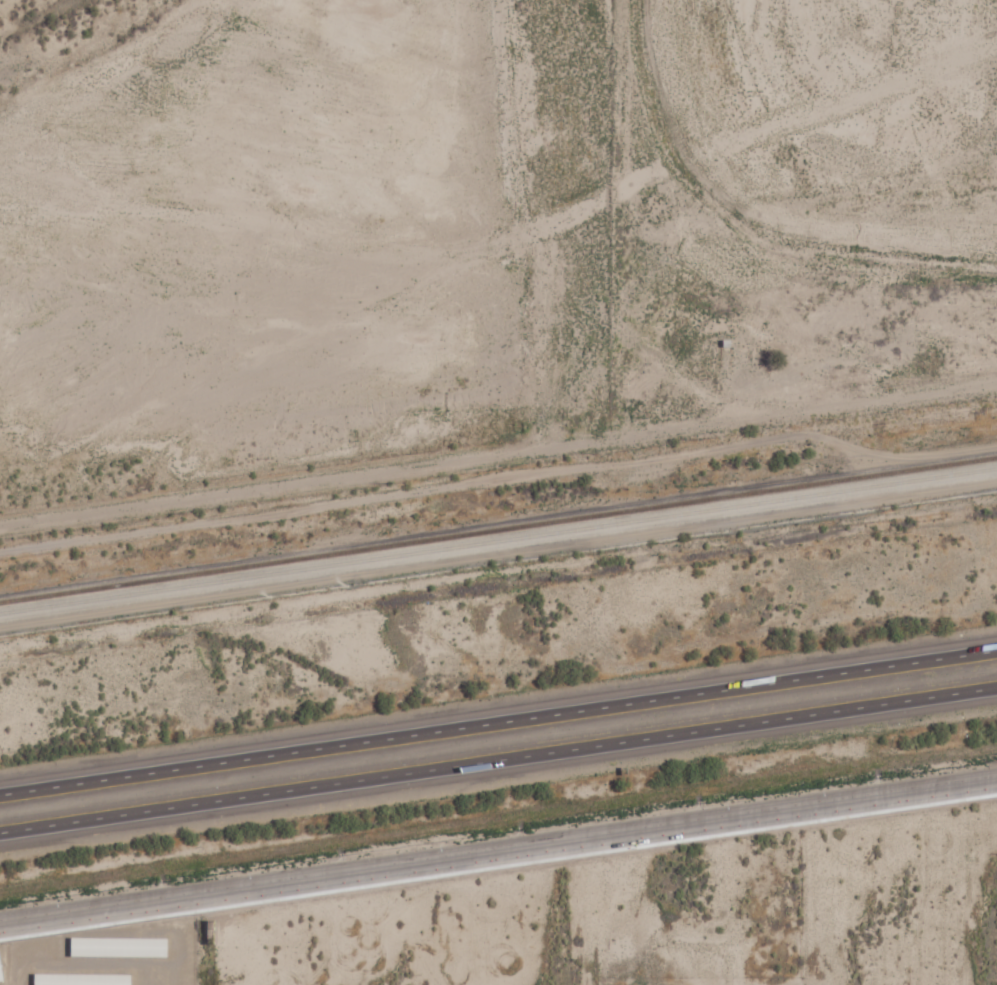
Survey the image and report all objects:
road: (328, 408)
railway: (498, 526)
railway: (498, 540)
road: (498, 585)
road: (498, 722)
road: (498, 758)
road: (498, 851)
building: (120, 947)
building: (2, 968)
building: (83, 979)

